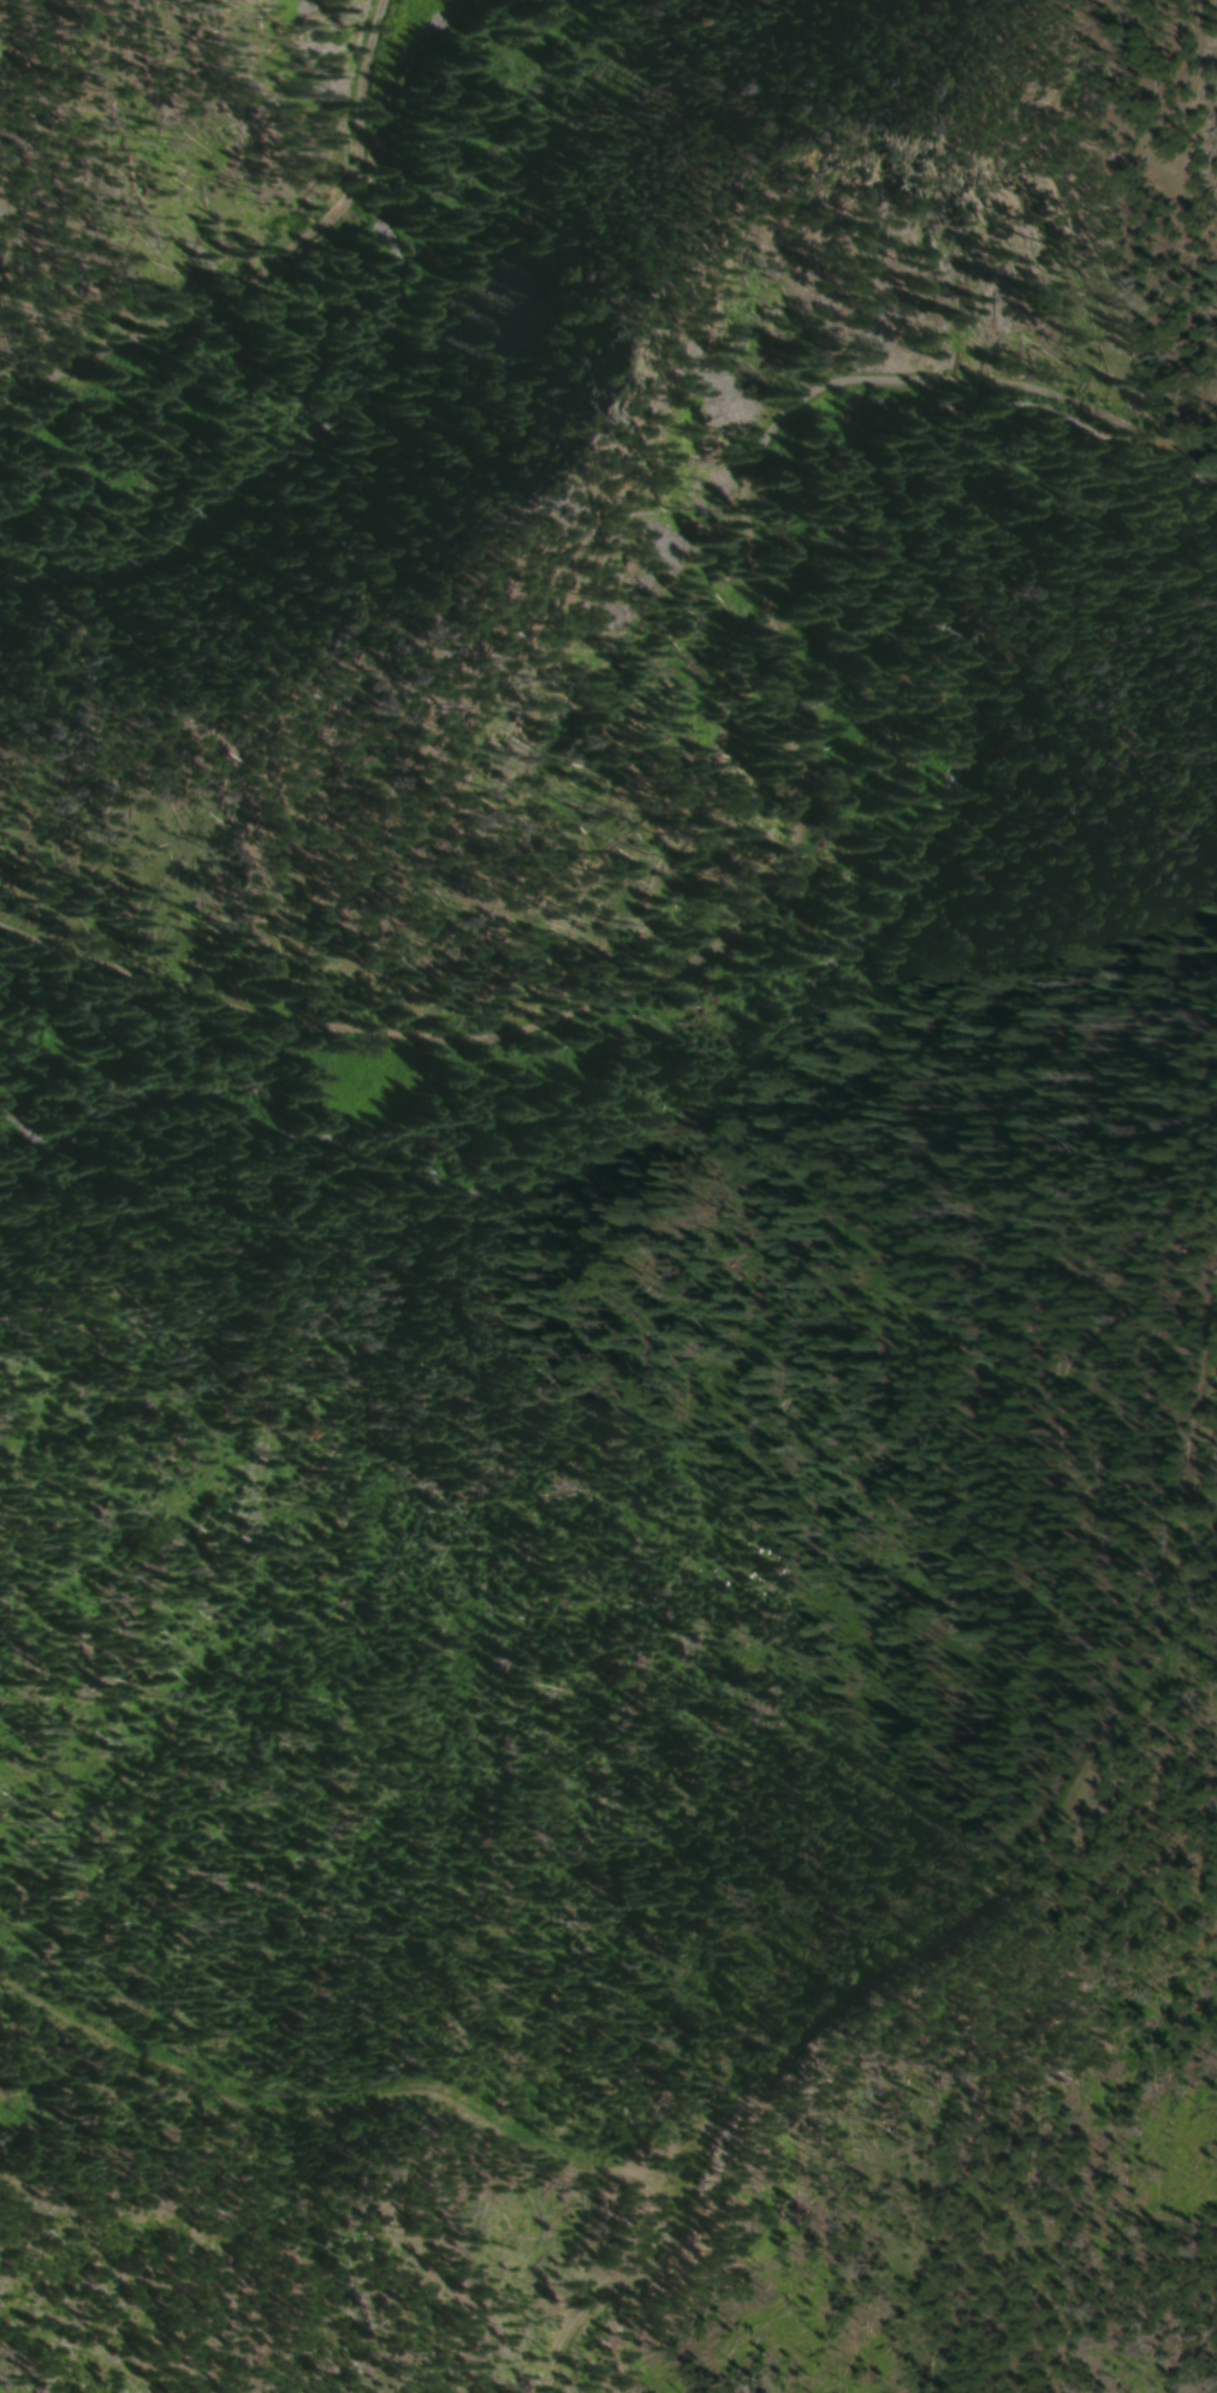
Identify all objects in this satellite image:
road: (269, 263)
river: (363, 387)
road: (785, 835)
river: (849, 954)

